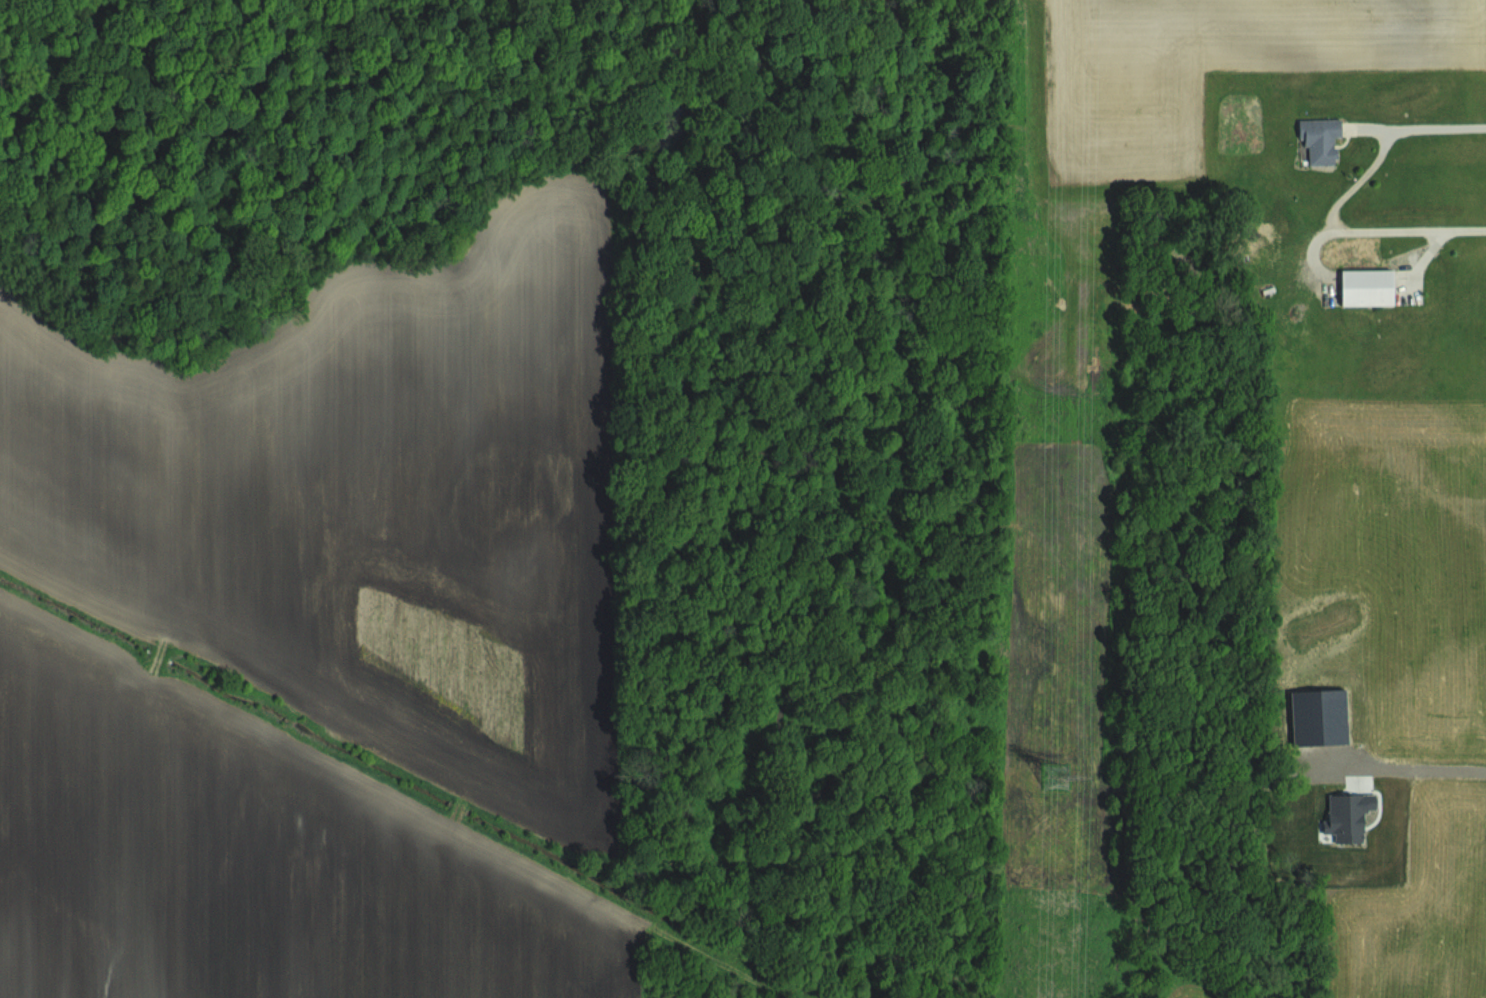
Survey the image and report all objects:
road: (1424, 128)
building: (1319, 139)
road: (1436, 238)
building: (1365, 286)
road: (1429, 767)
power tower: (1058, 776)

